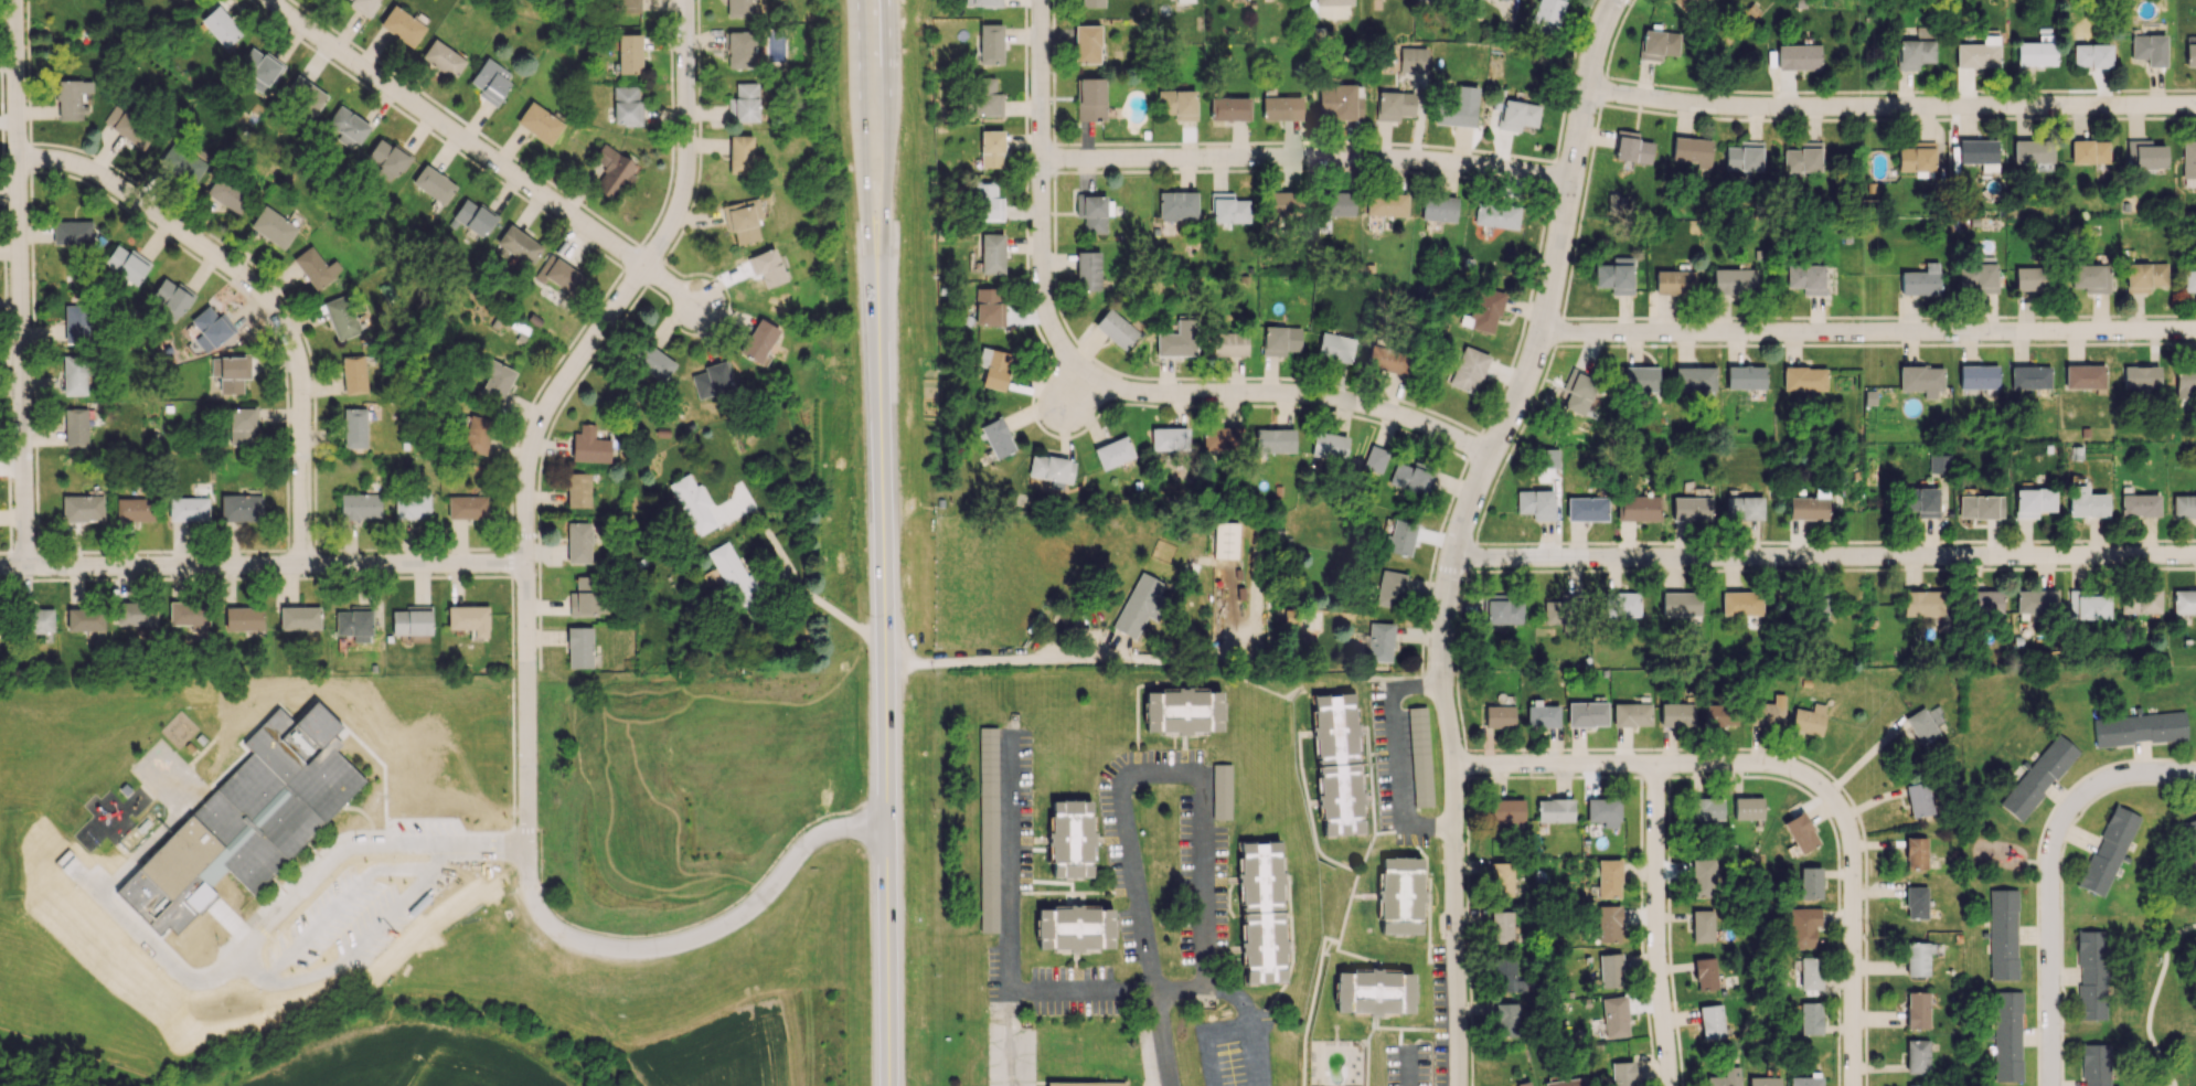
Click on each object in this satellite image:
building: (1503, 0)
road: (1630, 0)
building: (1184, 1)
building: (982, 2)
building: (1332, 2)
building: (1091, 3)
building: (1682, 3)
building: (625, 6)
building: (363, 7)
building: (739, 8)
building: (1547, 15)
building: (402, 25)
building: (220, 26)
building: (990, 43)
road: (1612, 43)
building: (1086, 44)
building: (1659, 44)
building: (2147, 49)
building: (737, 50)
building: (1913, 53)
building: (1978, 53)
building: (2035, 53)
building: (629, 54)
building: (2189, 54)
building: (1798, 55)
building: (2091, 55)
building: (443, 58)
building: (1411, 60)
building: (259, 66)
building: (490, 81)
building: (303, 96)
building: (984, 97)
building: (71, 98)
building: (1090, 98)
building: (1337, 102)
building: (743, 103)
building: (1176, 104)
building: (626, 105)
building: (1394, 105)
road: (1895, 107)
building: (1228, 108)
building: (1280, 108)
building: (1457, 108)
building: (1516, 115)
building: (539, 123)
building: (128, 126)
building: (348, 127)
road: (889, 134)
road: (862, 138)
building: (991, 148)
building: (1631, 148)
building: (1692, 150)
building: (2032, 151)
building: (2088, 151)
building: (739, 153)
building: (1979, 153)
building: (2144, 155)
building: (1916, 157)
building: (1744, 158)
building: (1802, 158)
building: (2188, 158)
building: (386, 159)
road: (486, 160)
road: (1310, 161)
building: (182, 163)
building: (611, 171)
building: (433, 184)
building: (227, 193)
road: (1044, 195)
building: (987, 202)
building: (1336, 203)
building: (1386, 204)
building: (1177, 205)
building: (1282, 205)
power tower: (1864, 205)
building: (1229, 207)
building: (1438, 207)
road: (1582, 207)
building: (1091, 212)
building: (1496, 215)
building: (472, 217)
building: (743, 220)
building: (273, 227)
building: (72, 232)
building: (518, 245)
building: (991, 253)
building: (126, 264)
building: (315, 267)
building: (765, 267)
building: (1088, 269)
building: (1979, 274)
building: (561, 275)
building: (1614, 275)
building: (2143, 276)
building: (2089, 277)
building: (1805, 278)
building: (1733, 280)
building: (1920, 280)
building: (1673, 281)
building: (2188, 281)
road: (23, 284)
building: (170, 297)
road: (257, 297)
building: (989, 306)
building: (1483, 310)
building: (341, 317)
building: (77, 324)
building: (210, 328)
building: (1115, 329)
road: (1873, 333)
building: (1176, 339)
building: (758, 340)
building: (1279, 340)
building: (1228, 343)
building: (1334, 347)
building: (1387, 360)
building: (653, 362)
building: (995, 370)
building: (1468, 370)
building: (230, 372)
building: (353, 374)
building: (74, 375)
building: (1745, 376)
building: (2083, 376)
building: (2140, 376)
building: (2029, 377)
building: (1642, 379)
building: (1695, 379)
building: (1803, 379)
building: (1978, 379)
building: (712, 380)
building: (1920, 380)
building: (2185, 380)
building: (494, 381)
road: (1078, 392)
building: (1577, 392)
road: (1297, 394)
road: (551, 406)
building: (242, 426)
building: (75, 427)
building: (354, 427)
building: (476, 434)
building: (996, 437)
building: (1169, 439)
building: (1222, 439)
building: (1273, 439)
building: (589, 445)
building: (1329, 446)
building: (1112, 453)
building: (1375, 459)
building: (1938, 464)
building: (1051, 468)
building: (1411, 477)
building: (578, 489)
building: (1920, 501)
building: (2033, 501)
building: (2085, 502)
building: (1535, 503)
building: (692, 504)
building: (2139, 504)
building: (411, 505)
building: (1809, 505)
building: (2184, 505)
building: (359, 507)
building: (466, 507)
building: (1742, 507)
building: (1980, 507)
building: (82, 508)
building: (241, 508)
building: (1639, 508)
building: (1691, 508)
building: (135, 509)
building: (188, 509)
building: (1586, 509)
road: (1463, 532)
building: (1399, 537)
building: (1224, 540)
building: (580, 542)
road: (1824, 558)
road: (263, 565)
building: (732, 573)
road: (798, 583)
building: (1390, 588)
building: (587, 598)
building: (2035, 601)
building: (2140, 601)
building: (2184, 601)
building: (1741, 603)
building: (1621, 604)
building: (1680, 604)
building: (1925, 604)
building: (1985, 604)
building: (1140, 605)
building: (2088, 605)
building: (1819, 608)
building: (1502, 609)
building: (1553, 611)
building: (189, 615)
building: (299, 617)
building: (243, 618)
building: (84, 619)
building: (468, 619)
building: (39, 620)
building: (411, 622)
building: (353, 624)
building: (1379, 641)
building: (579, 647)
road: (853, 656)
road: (1004, 661)
power tower: (1872, 664)
road: (908, 677)
road: (885, 681)
road: (1137, 685)
building: (1181, 710)
building: (1767, 711)
building: (1586, 713)
building: (1631, 714)
building: (1676, 714)
building: (1720, 714)
building: (1542, 715)
building: (1497, 716)
building: (1808, 718)
building: (1923, 724)
building: (1334, 727)
road: (1361, 727)
building: (2138, 727)
road: (1182, 741)
road: (1366, 741)
road: (1136, 746)
building: (1419, 757)
parking lot: (1390, 760)
road: (1394, 763)
road: (1707, 766)
road: (1177, 771)
building: (2037, 777)
road: (2117, 779)
building: (1220, 790)
building: (1340, 798)
building: (1918, 799)
road: (1371, 800)
building: (1706, 808)
building: (1747, 808)
parking lot: (1024, 809)
building: (1554, 810)
building: (1506, 811)
building: (1602, 811)
building: (252, 824)
building: (988, 829)
building: (1799, 832)
building: (2192, 837)
building: (1069, 838)
road: (1035, 839)
road: (1096, 839)
building: (2108, 850)
building: (1915, 853)
road: (1009, 861)
parking lot: (1203, 864)
road: (2036, 864)
building: (1259, 874)
building: (1702, 877)
building: (1500, 879)
building: (1608, 879)
building: (1809, 883)
road: (1428, 885)
road: (1060, 892)
road: (1364, 894)
road: (1427, 894)
building: (1399, 895)
road: (1074, 896)
road: (1348, 899)
building: (1915, 902)
parking lot: (307, 916)
building: (1608, 924)
building: (1702, 925)
road: (1663, 926)
building: (1801, 926)
road: (162, 927)
building: (1501, 927)
building: (1073, 929)
road: (1428, 933)
building: (2002, 934)
power tower: (1879, 936)
road: (692, 941)
road: (255, 944)
building: (1261, 945)
road: (1290, 952)
road: (1354, 955)
road: (1150, 957)
road: (2050, 958)
building: (1916, 959)
road: (1074, 961)
building: (1610, 970)
building: (1809, 972)
building: (1705, 973)
parking lot: (1005, 975)
building: (1505, 975)
building: (2090, 975)
parking lot: (1072, 989)
road: (1173, 989)
building: (1374, 991)
road: (1854, 999)
road: (2153, 1000)
parking lot: (1439, 1001)
building: (1916, 1010)
road: (1373, 1016)
building: (1613, 1016)
building: (1809, 1018)
building: (1505, 1019)
road: (1249, 1021)
building: (1710, 1021)
road: (1373, 1024)
road: (1416, 1026)
road: (1205, 1035)
building: (2006, 1035)
road: (1013, 1037)
parking lot: (1234, 1048)
parking lot: (1148, 1052)
parking lot: (1010, 1055)
building: (1917, 1056)
road: (1365, 1064)
building: (2094, 1064)
building: (1621, 1073)
building: (1724, 1077)
building: (1762, 1080)
building: (1804, 1080)
building: (1564, 1083)
building: (1086, 1084)
building: (1522, 1084)
building: (1916, 1085)

